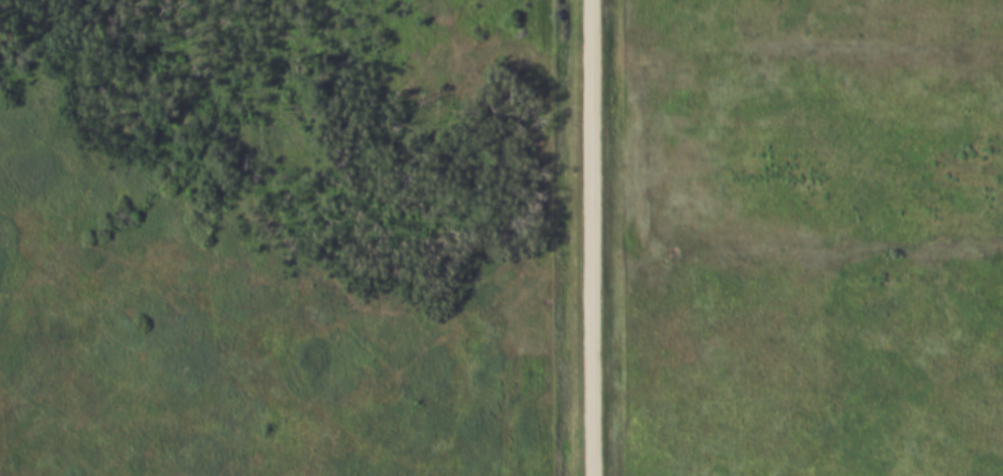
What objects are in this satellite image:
road: (590, 238)

